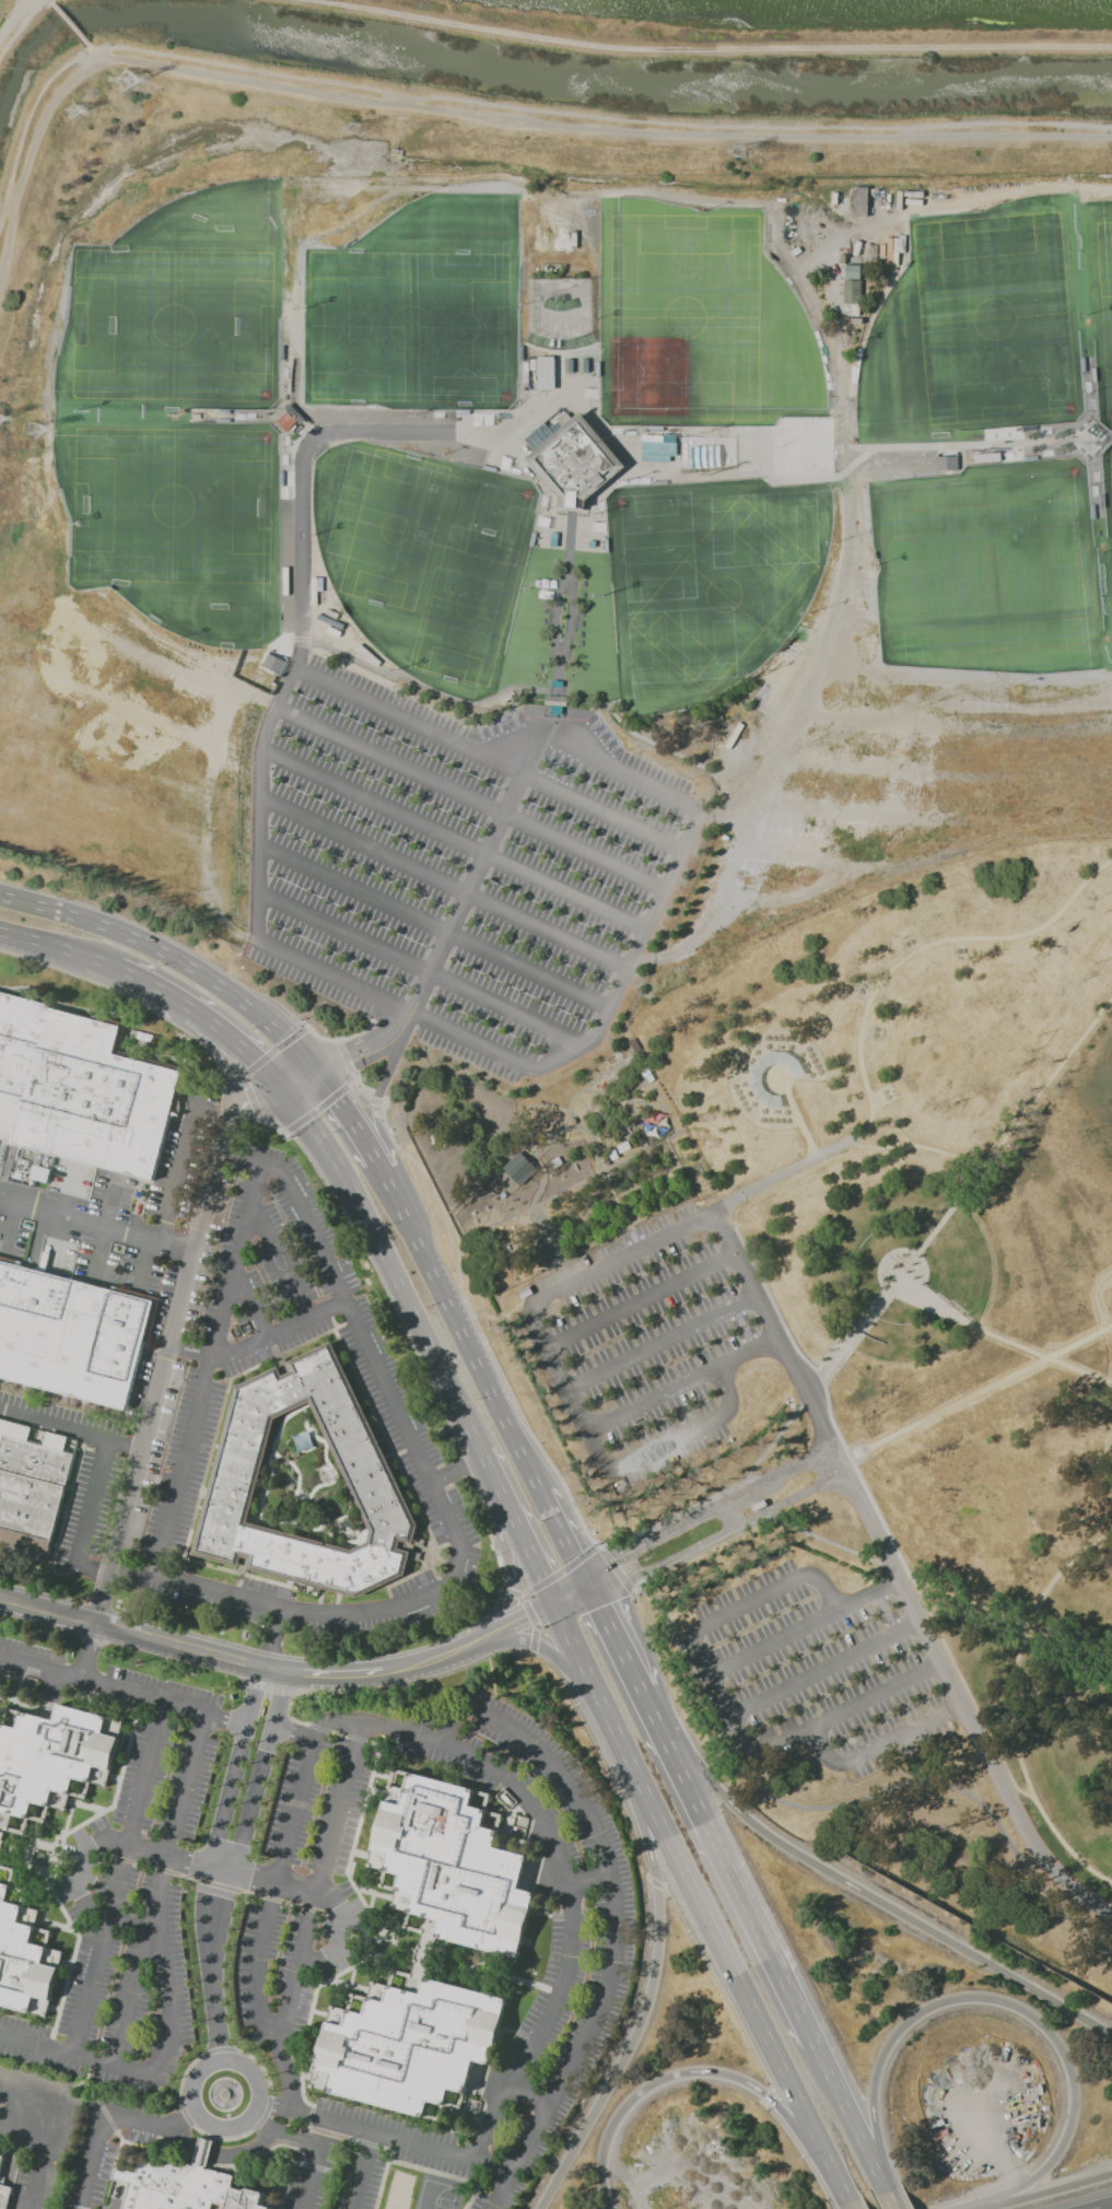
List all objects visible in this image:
road: (47, 1)
road: (16, 20)
road: (67, 24)
road: (703, 47)
road: (91, 51)
power tower: (126, 85)
power tower: (78, 112)
road: (27, 116)
road: (602, 117)
power tower: (354, 130)
road: (33, 150)
power tower: (737, 154)
building: (859, 200)
road: (899, 214)
building: (852, 289)
park: (418, 308)
park: (700, 323)
building: (545, 372)
park: (176, 416)
building: (285, 421)
power tower: (27, 430)
road: (330, 431)
park: (995, 445)
building: (575, 463)
building: (946, 463)
road: (817, 478)
park: (424, 558)
park: (711, 582)
road: (835, 616)
road: (561, 621)
building: (272, 663)
road: (963, 677)
road: (616, 769)
road: (469, 800)
road: (455, 834)
parking lot: (463, 863)
road: (442, 884)
road: (433, 926)
road: (446, 948)
road: (56, 951)
road: (174, 955)
road: (417, 968)
road: (886, 974)
road: (204, 1024)
road: (766, 1033)
road: (337, 1040)
road: (583, 1045)
road: (256, 1064)
traffic signals: (315, 1073)
road: (226, 1077)
road: (352, 1077)
building: (762, 1079)
building: (81, 1091)
traffic signals: (283, 1097)
road: (318, 1106)
road: (352, 1114)
road: (271, 1122)
road: (379, 1133)
road: (811, 1138)
road: (246, 1160)
road: (803, 1167)
building: (518, 1168)
road: (178, 1170)
building: (40, 1172)
road: (67, 1193)
road: (962, 1199)
road: (95, 1226)
road: (10, 1229)
road: (104, 1229)
road: (625, 1254)
road: (141, 1263)
road: (389, 1271)
road: (1098, 1297)
road: (643, 1298)
road: (447, 1299)
road: (171, 1324)
road: (286, 1328)
building: (71, 1335)
road: (779, 1336)
road: (1003, 1337)
road: (663, 1341)
road: (197, 1346)
parking lot: (671, 1353)
road: (375, 1365)
park: (848, 1365)
road: (559, 1366)
road: (207, 1369)
road: (686, 1382)
road: (726, 1389)
road: (976, 1394)
road: (827, 1399)
road: (805, 1402)
road: (69, 1430)
road: (671, 1441)
road: (537, 1442)
road: (455, 1469)
building: (366, 1471)
building: (35, 1491)
road: (91, 1499)
road: (725, 1501)
road: (553, 1510)
road: (737, 1526)
road: (746, 1526)
road: (514, 1531)
road: (885, 1562)
traffic signals: (532, 1568)
road: (616, 1569)
traffic signals: (623, 1569)
road: (558, 1573)
road: (608, 1577)
road: (772, 1590)
road: (572, 1597)
road: (503, 1598)
road: (970, 1603)
road: (271, 1605)
traffic signals: (606, 1610)
road: (528, 1613)
traffic signals: (528, 1617)
road: (806, 1626)
road: (500, 1629)
road: (134, 1635)
road: (273, 1638)
road: (621, 1640)
road: (1070, 1646)
road: (520, 1650)
road: (90, 1653)
road: (549, 1655)
road: (417, 1663)
road: (827, 1667)
parking lot: (809, 1670)
road: (326, 1674)
road: (108, 1687)
road: (723, 1693)
road: (959, 1703)
road: (848, 1704)
road: (653, 1706)
road: (1015, 1707)
road: (232, 1721)
road: (293, 1732)
road: (878, 1745)
building: (49, 1758)
road: (234, 1766)
road: (260, 1772)
road: (832, 1804)
road: (293, 1811)
road: (117, 1840)
road: (87, 1851)
road: (564, 1862)
building: (450, 1863)
road: (220, 1870)
road: (117, 1878)
road: (589, 1878)
road: (737, 1879)
road: (318, 1880)
road: (654, 1883)
road: (160, 1889)
road: (868, 1893)
road: (325, 1896)
road: (85, 1901)
road: (697, 1902)
road: (613, 1916)
road: (338, 1932)
road: (309, 1957)
building: (23, 1962)
road: (210, 1964)
road: (257, 1964)
road: (655, 1982)
road: (721, 1987)
road: (167, 1997)
road: (1010, 2003)
road: (35, 2043)
building: (408, 2045)
road: (109, 2064)
road: (703, 2071)
road: (286, 2073)
road: (31, 2092)
road: (766, 2096)
road: (285, 2108)
road: (852, 2114)
road: (179, 2119)
road: (208, 2126)
road: (101, 2132)
road: (284, 2132)
road: (25, 2135)
road: (410, 2140)
road: (796, 2146)
road: (221, 2152)
road: (47, 2154)
building: (1, 2161)
road: (362, 2170)
road: (309, 2176)
building: (185, 2185)
park: (398, 2190)
road: (1044, 2193)
building: (4, 2196)
park: (435, 2196)
road: (892, 2197)
road: (846, 2202)
road: (830, 2204)
road: (974, 2208)
road: (1111, 2208)

